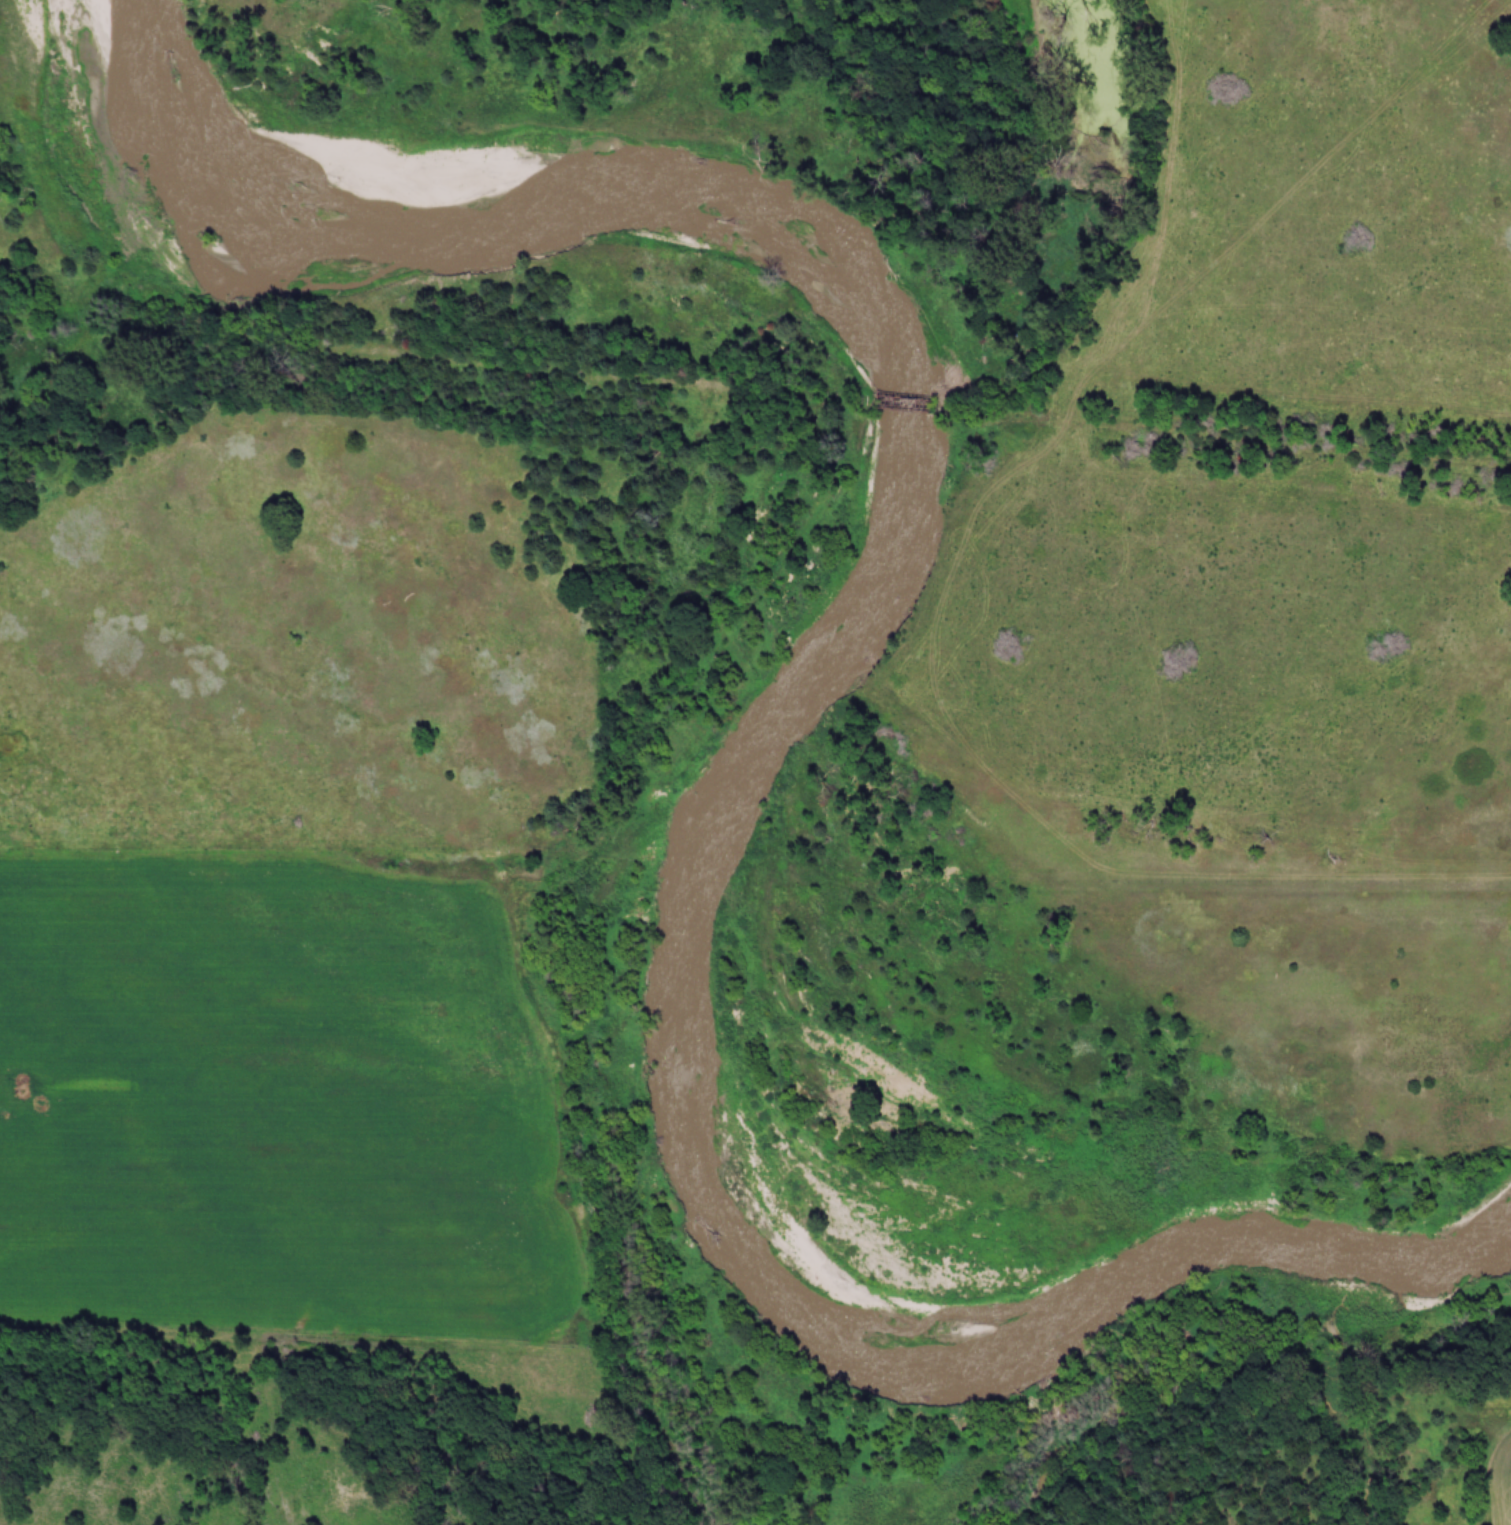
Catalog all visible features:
river: (796, 679)

